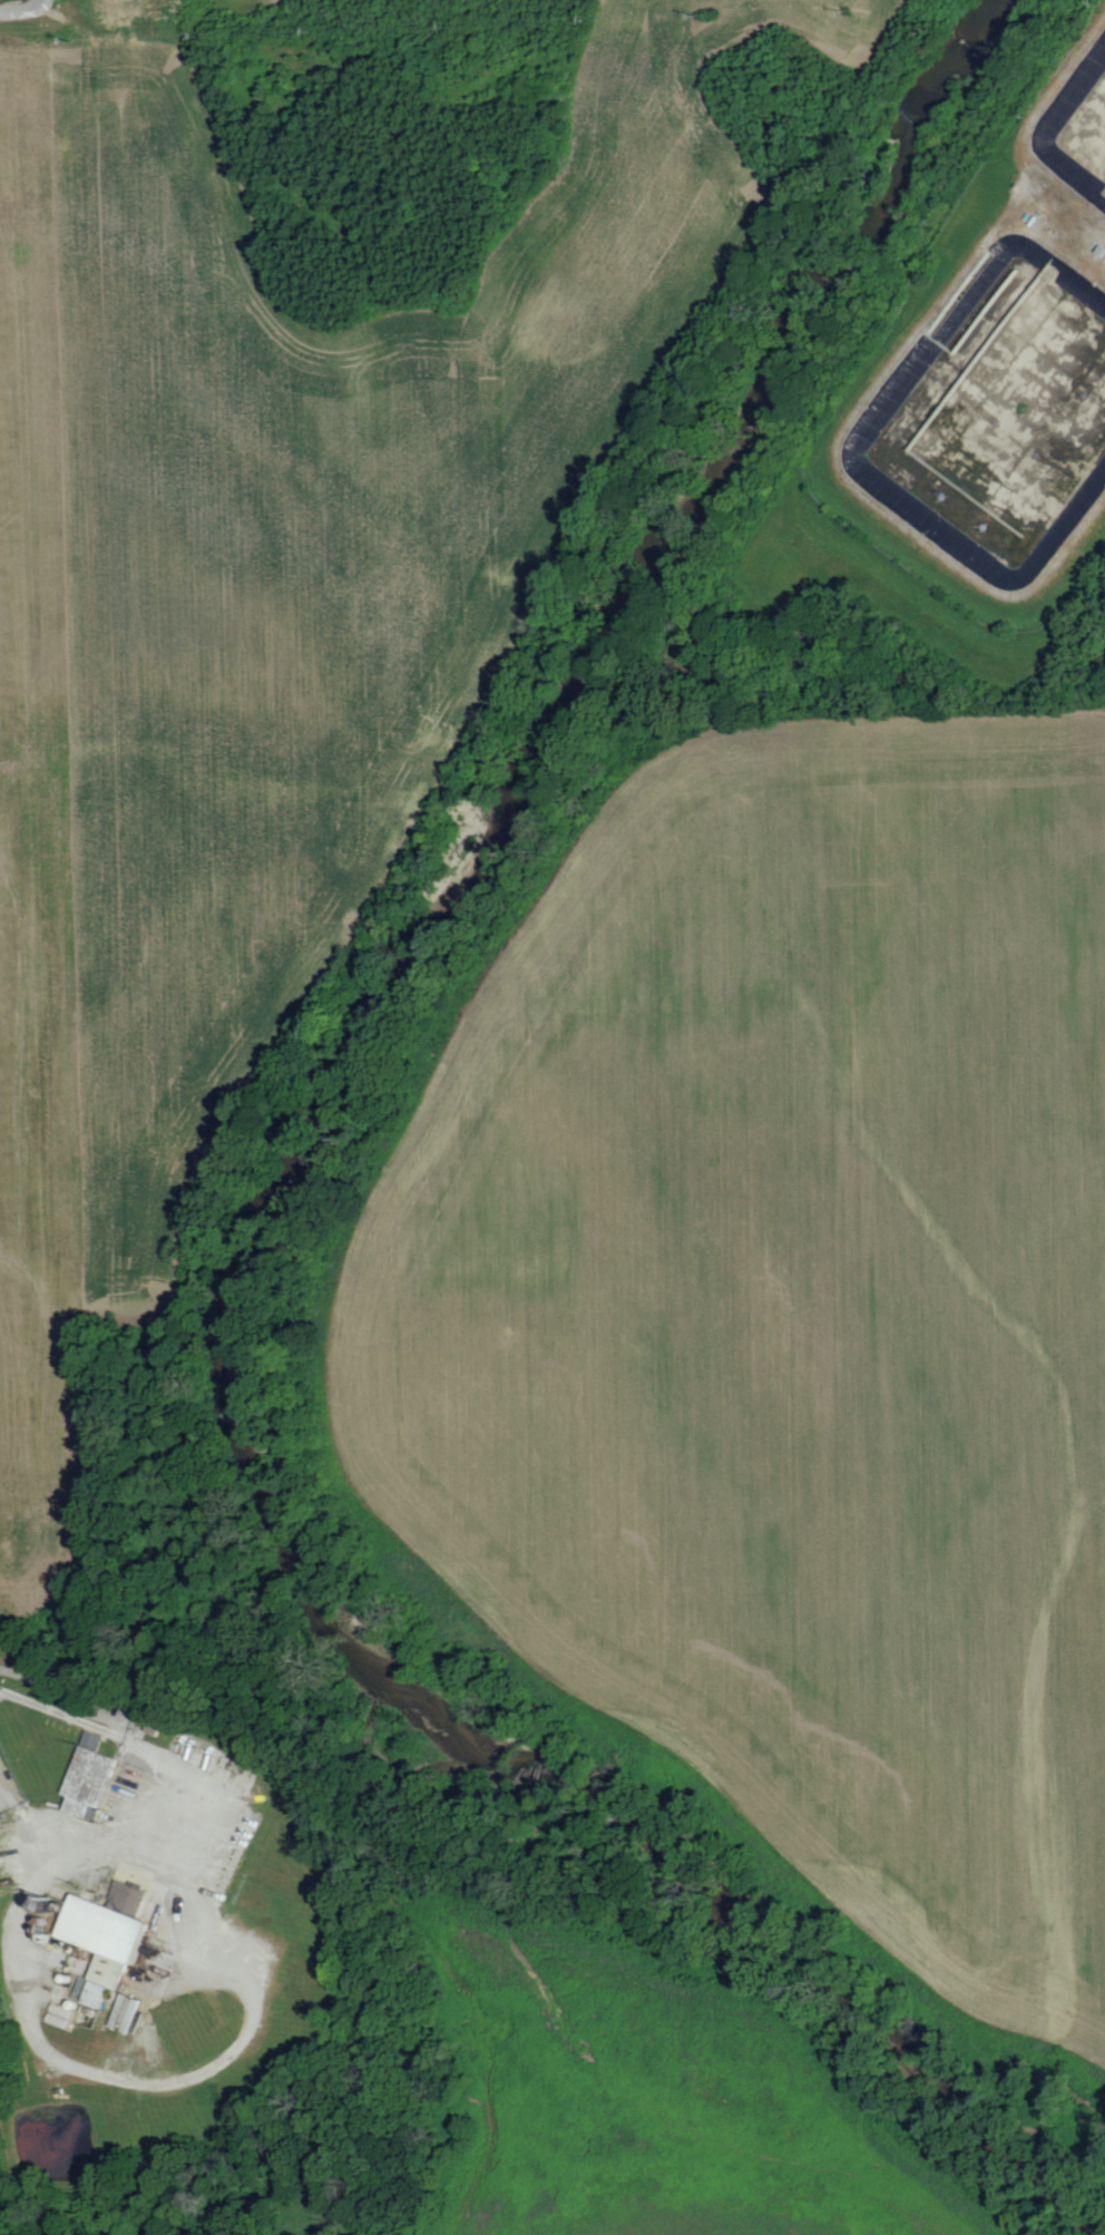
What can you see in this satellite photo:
road: (45, 1)
road: (22, 11)
road: (1079, 236)
river: (274, 1202)
road: (147, 1747)
building: (88, 1775)
road: (22, 1822)
building: (106, 1934)
building: (128, 2012)
building: (172, 2028)
road: (214, 2065)

